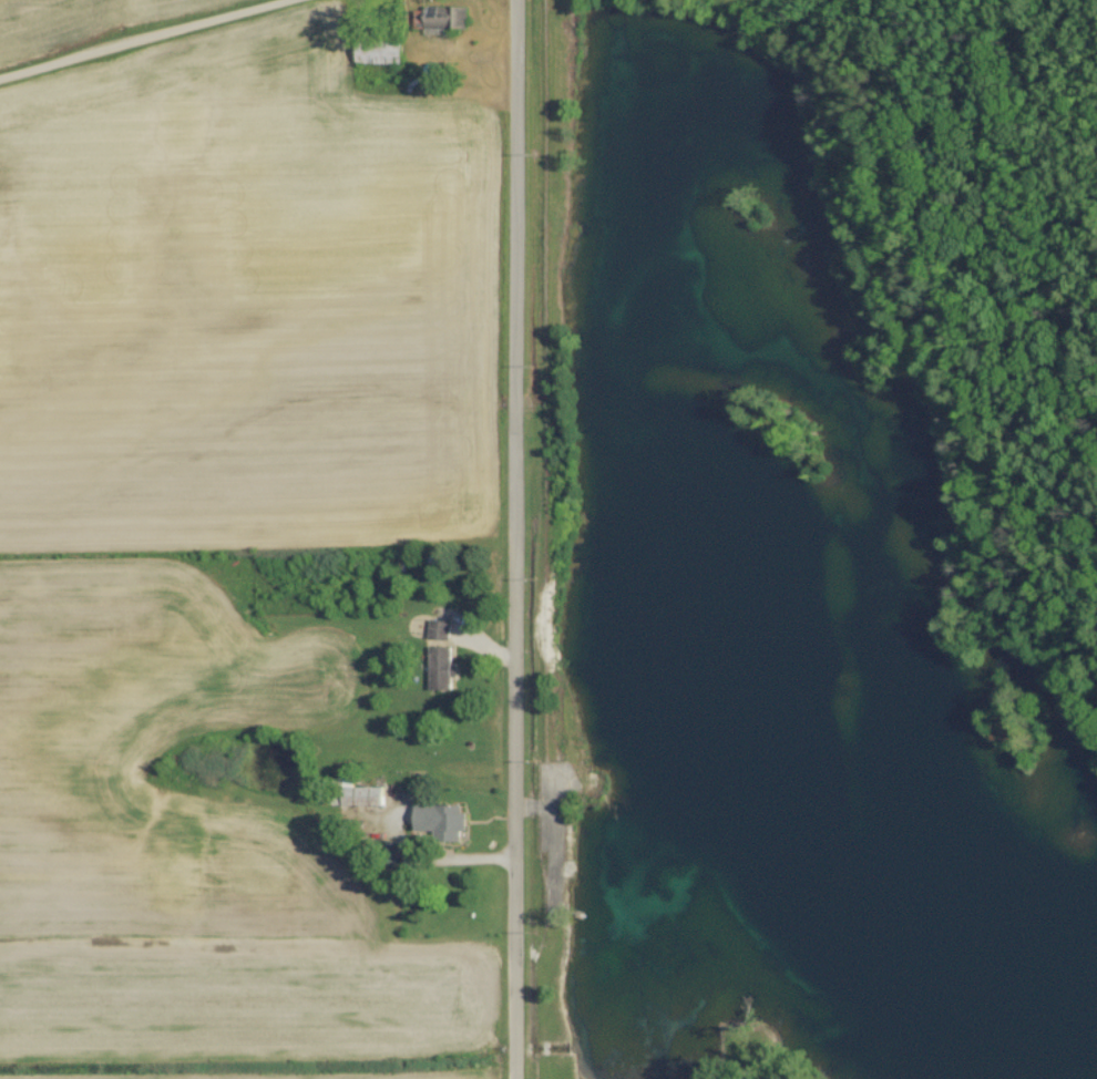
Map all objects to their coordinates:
road: (144, 37)
road: (519, 539)
building: (441, 628)
building: (443, 667)
building: (363, 793)
building: (444, 820)

